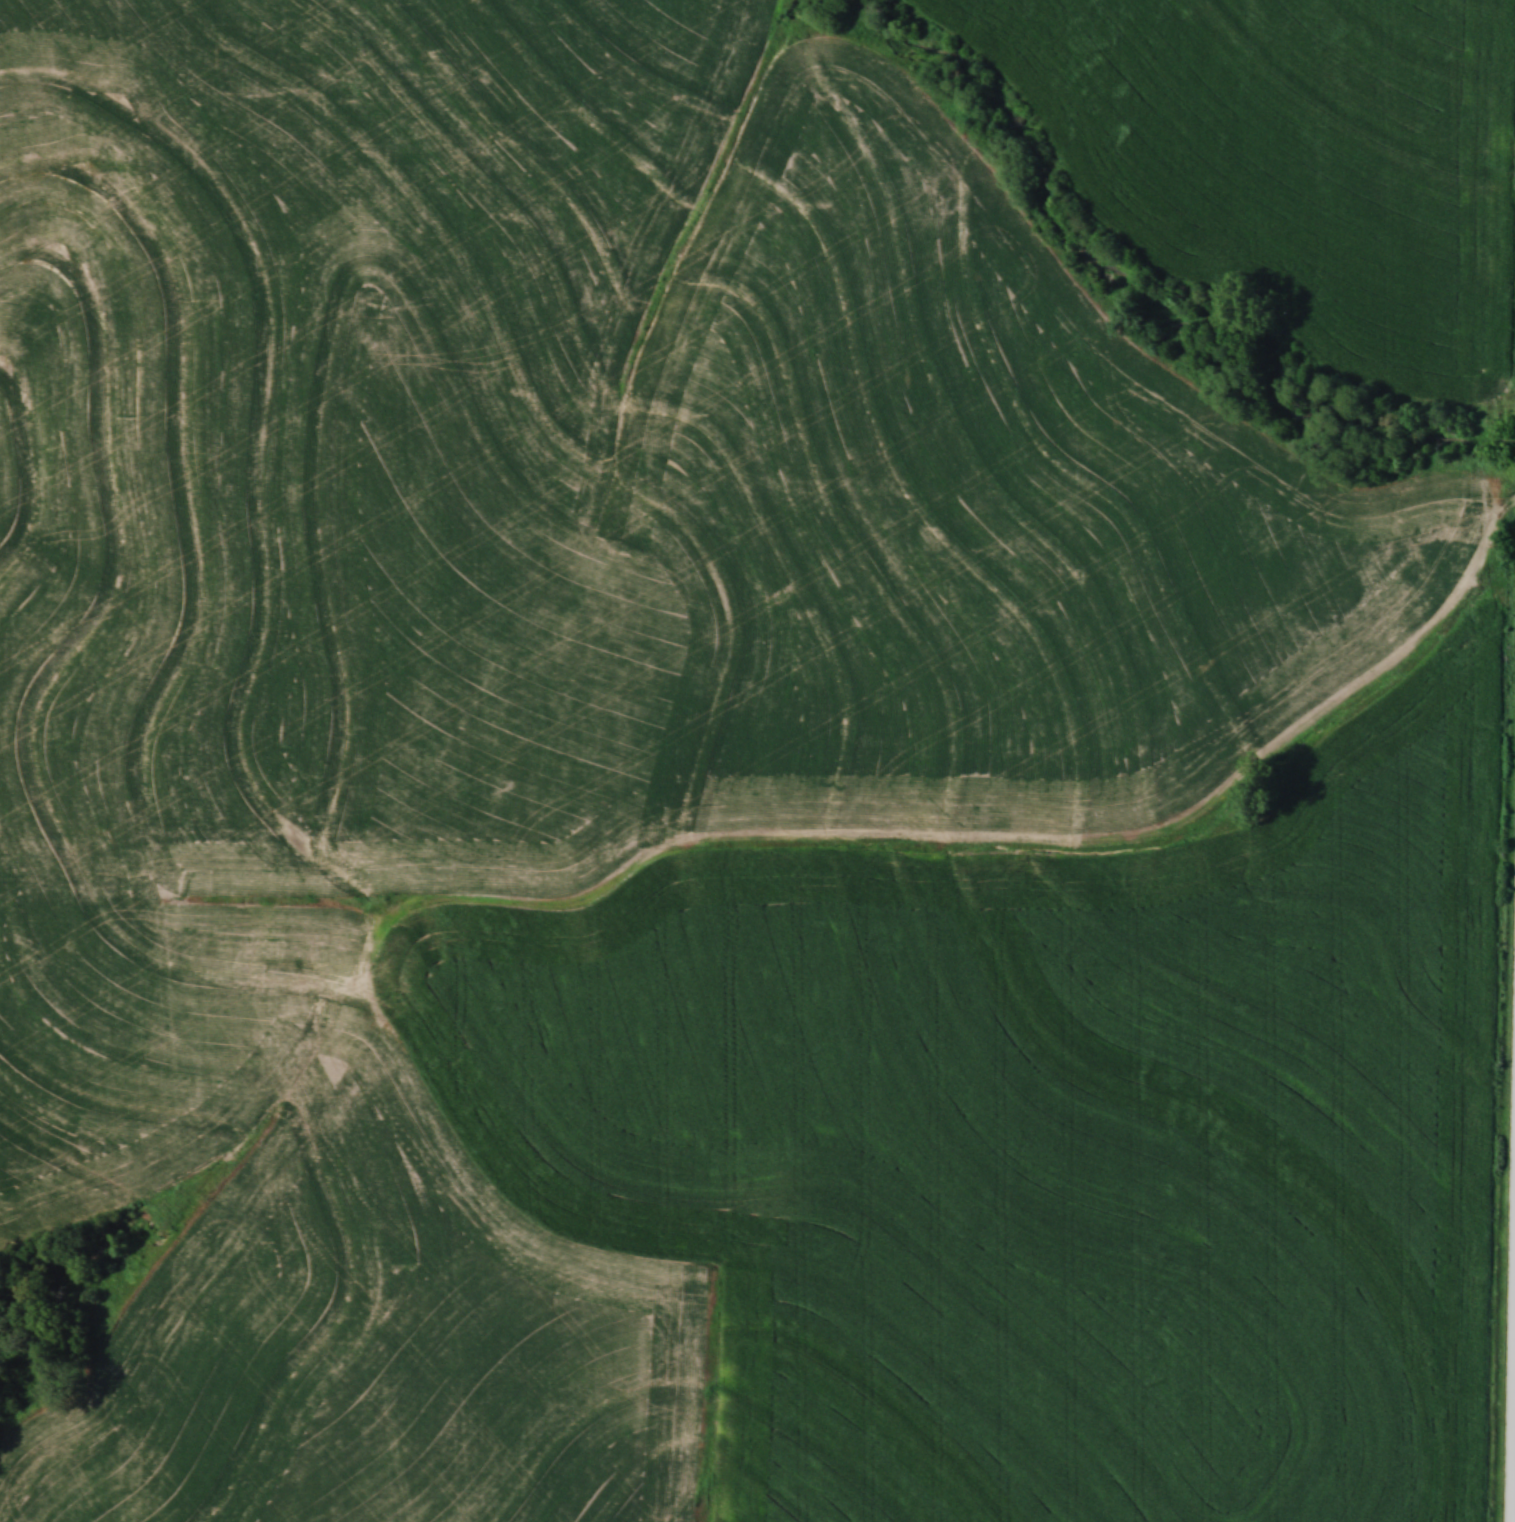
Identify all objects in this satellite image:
road: (1514, 1514)

